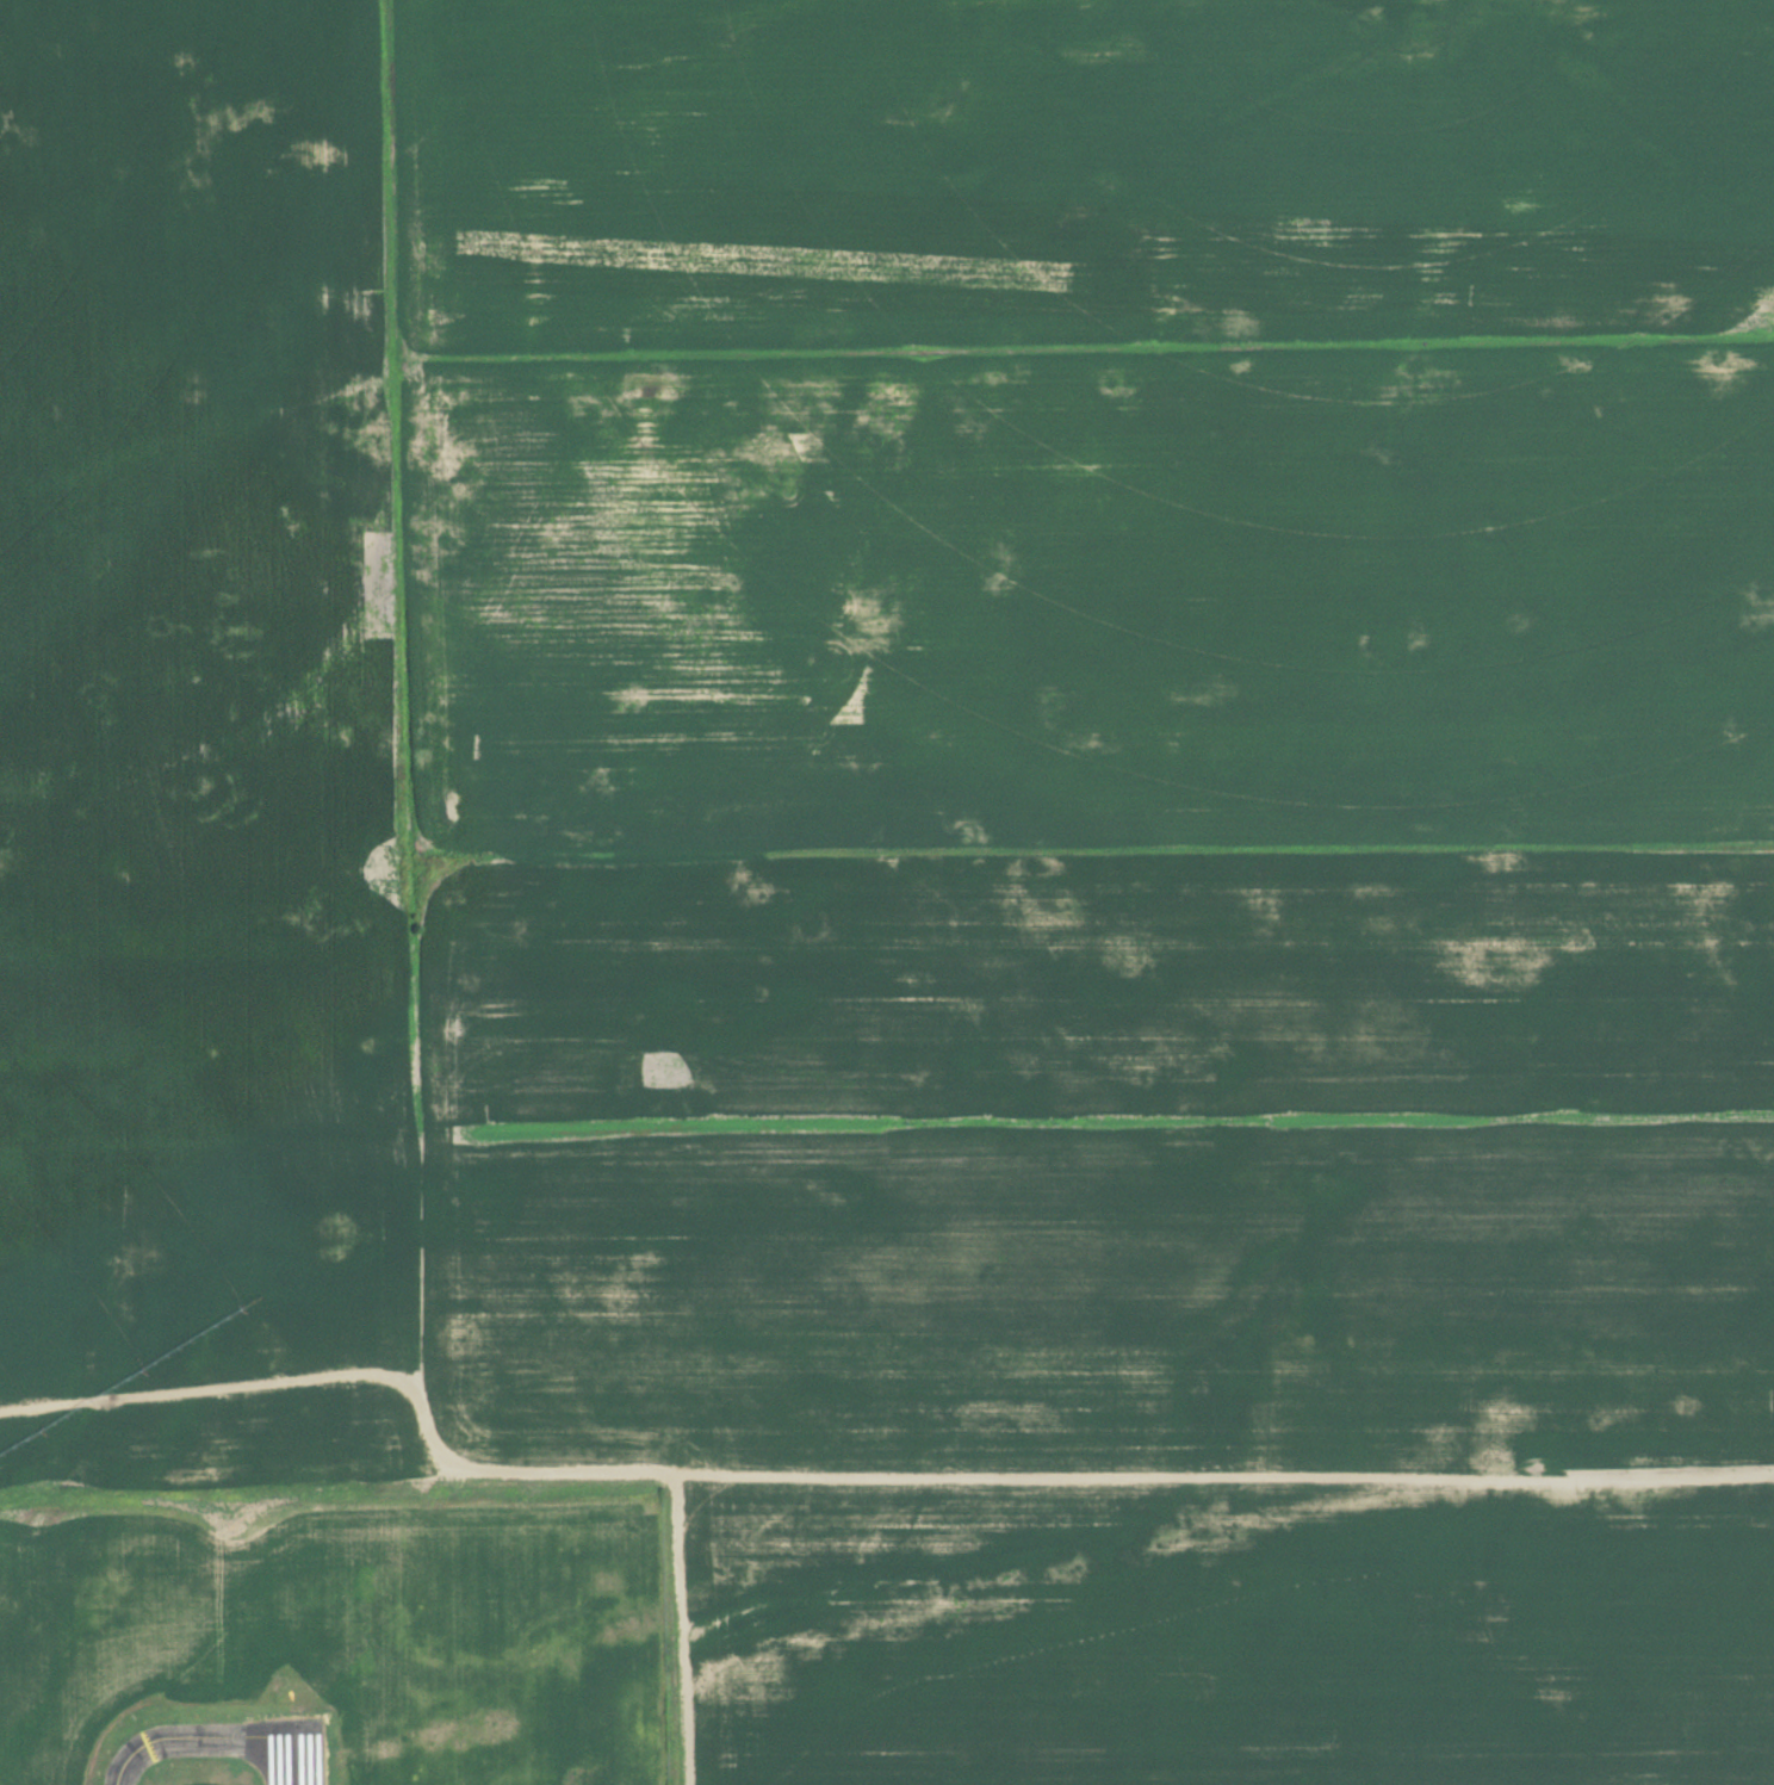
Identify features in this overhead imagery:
airport: (336, 1640)
airport taxiway: (199, 1752)
airport runway: (292, 1755)

